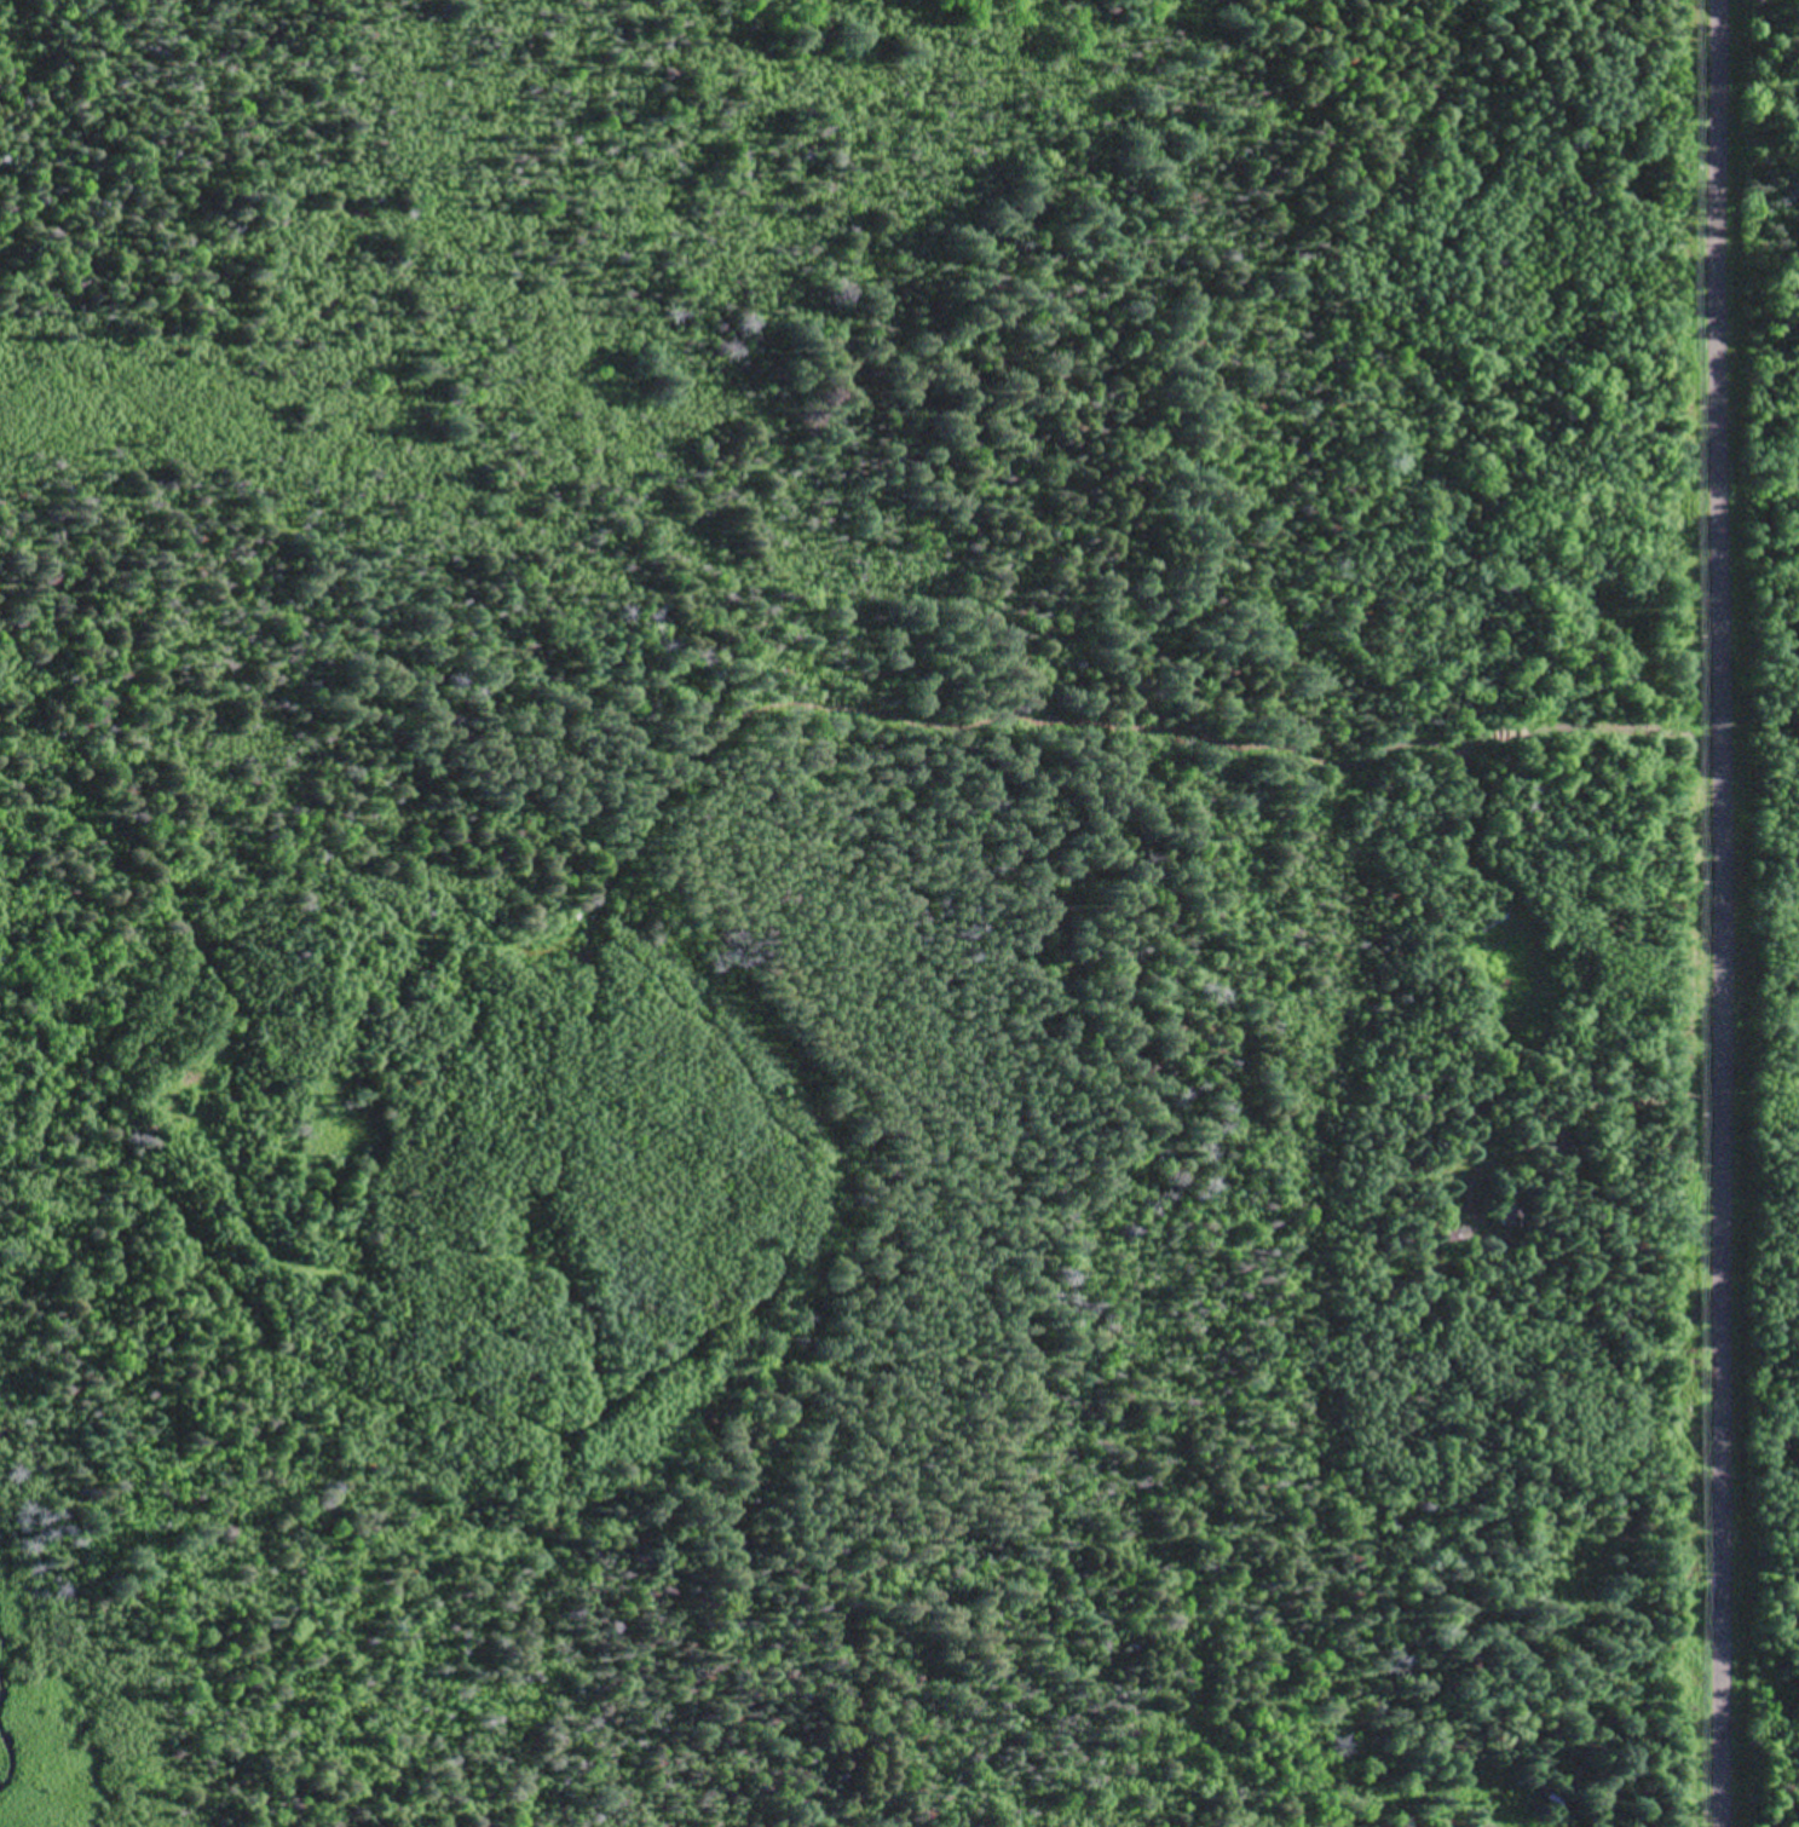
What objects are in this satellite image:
road: (1716, 912)

